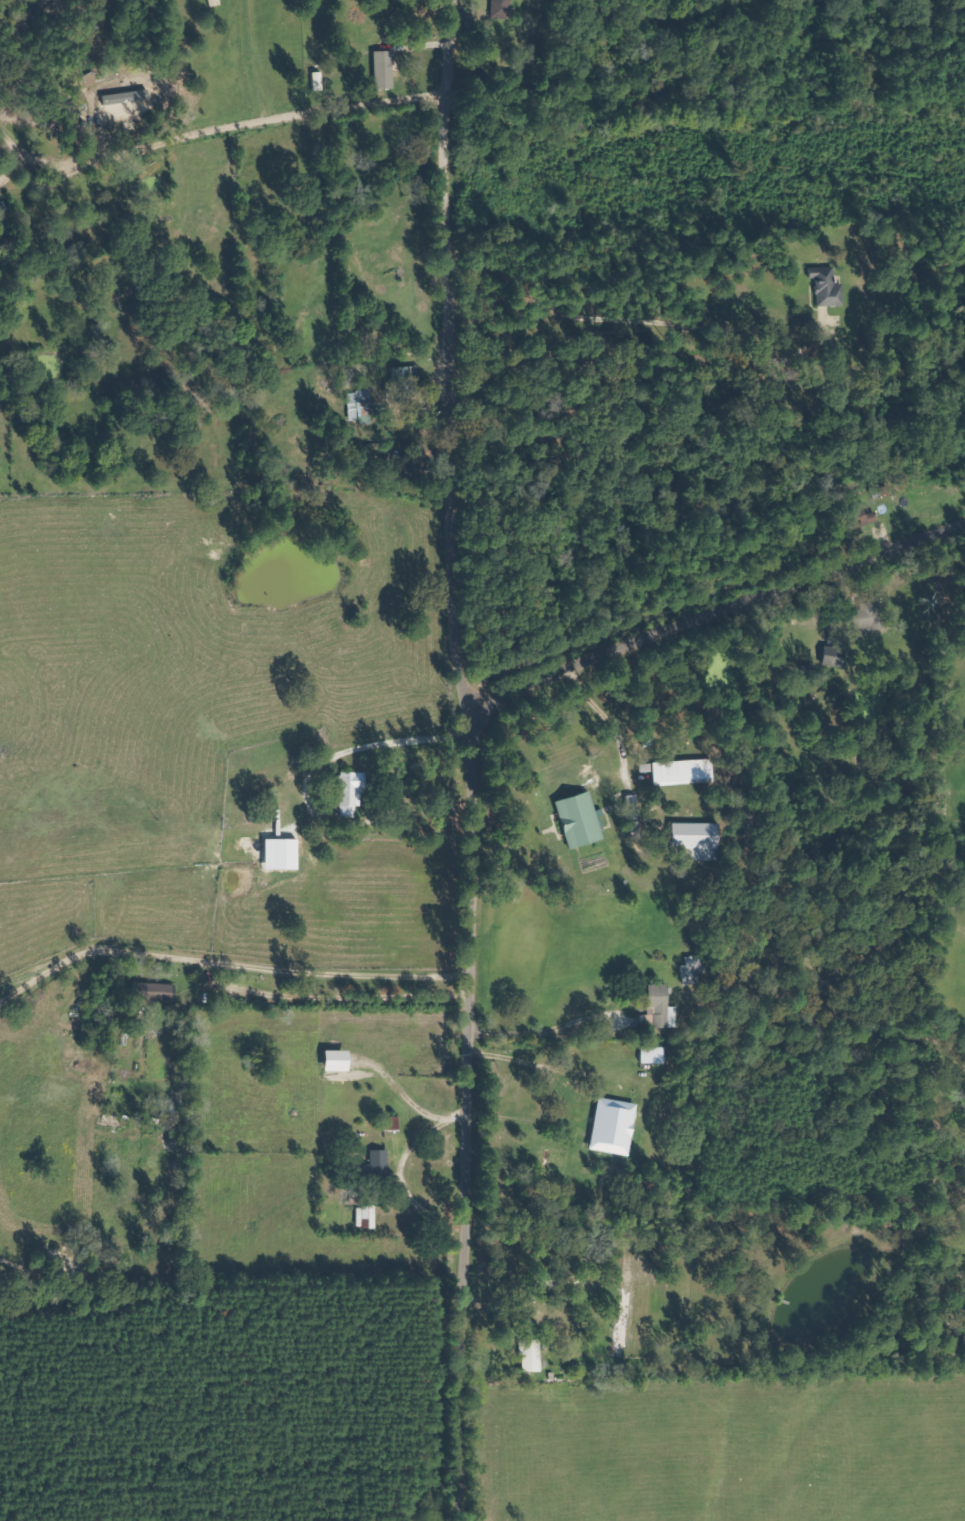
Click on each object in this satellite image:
building: (504, 9)
building: (386, 70)
building: (320, 81)
road: (258, 119)
building: (830, 287)
road: (447, 353)
building: (405, 382)
building: (361, 404)
road: (714, 611)
building: (836, 656)
building: (685, 772)
building: (354, 793)
building: (635, 814)
building: (582, 820)
building: (701, 840)
building: (695, 971)
building: (156, 991)
building: (665, 1007)
building: (656, 1055)
road: (466, 1112)
building: (616, 1127)
building: (382, 1161)
building: (369, 1216)
building: (533, 1356)

